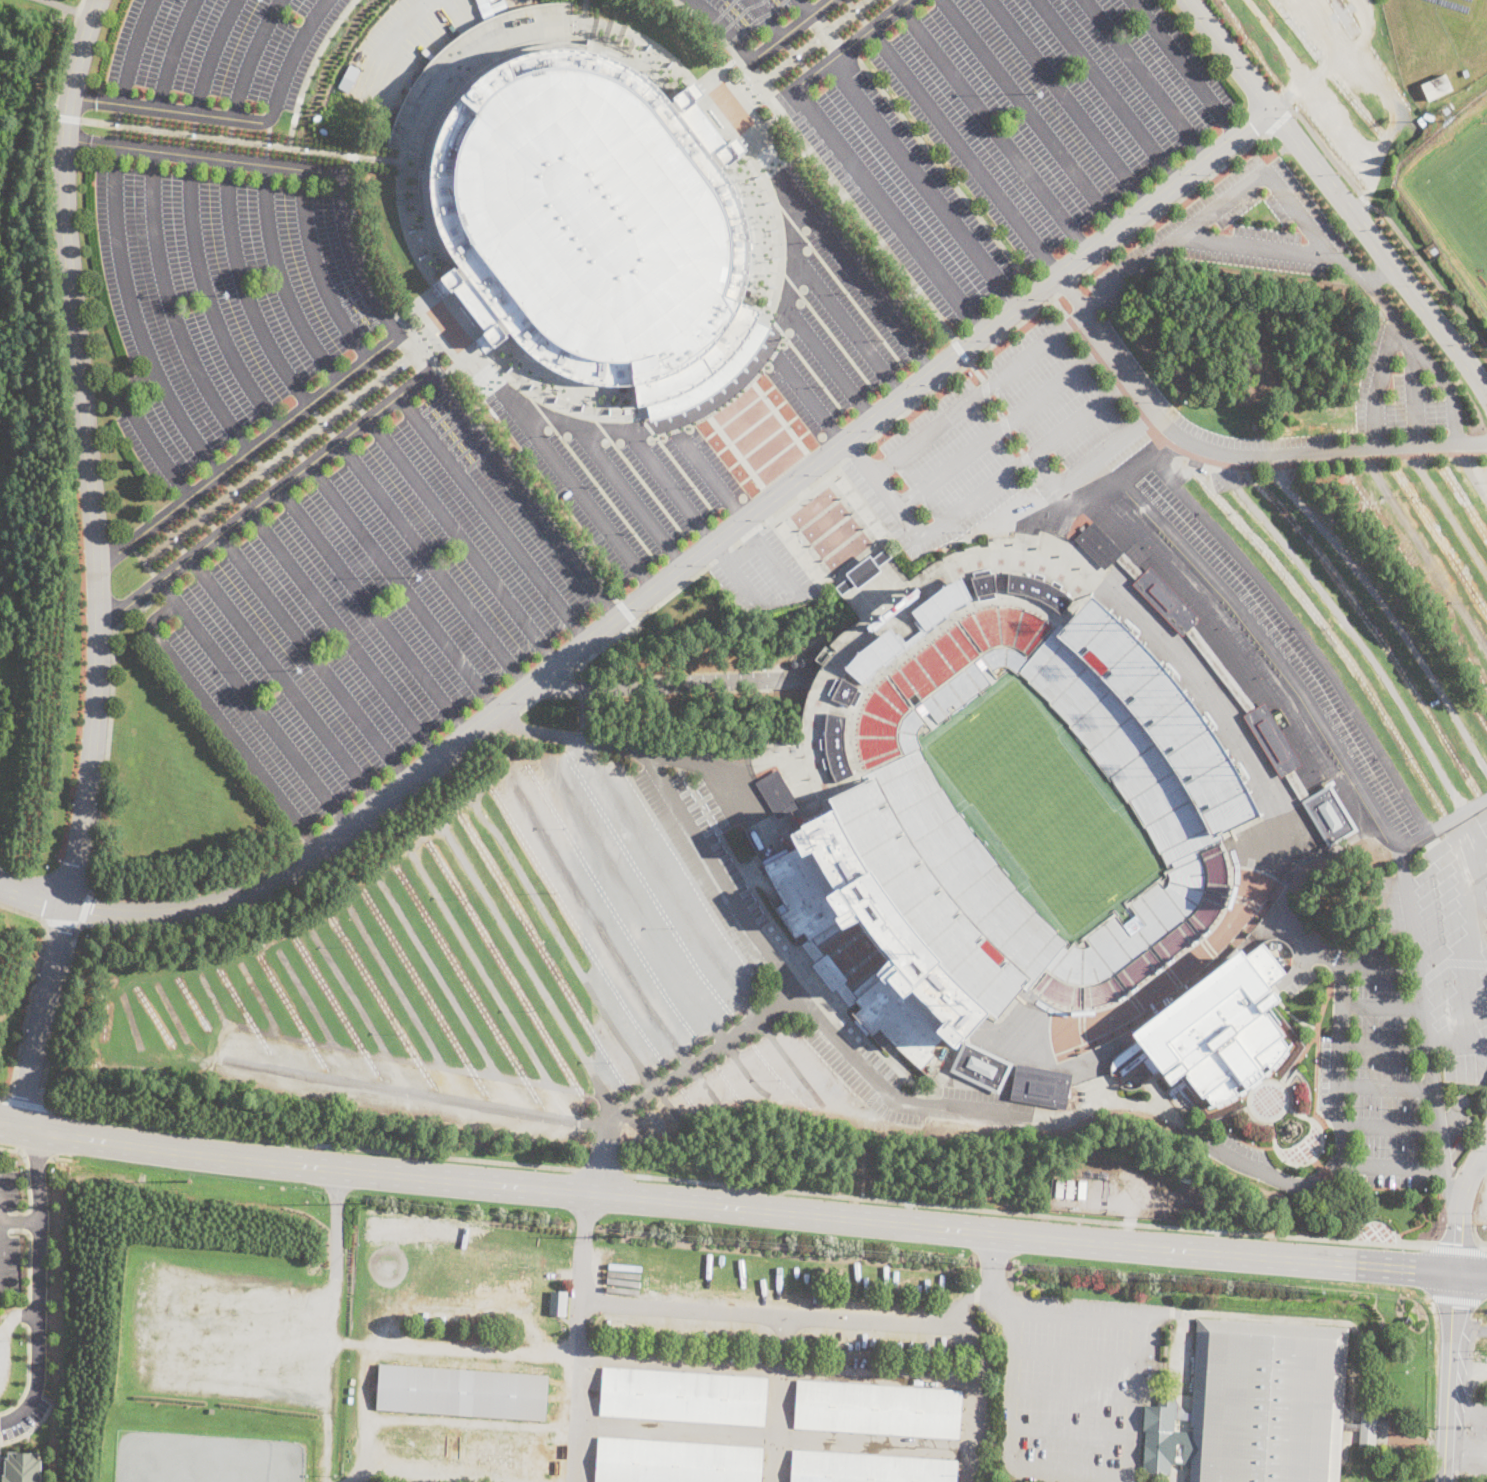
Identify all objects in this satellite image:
building: (481, 2)
road: (58, 6)
building: (498, 6)
road: (807, 6)
road: (587, 9)
road: (85, 14)
road: (767, 17)
parking lot: (740, 19)
road: (723, 27)
road: (402, 29)
road: (789, 30)
road: (849, 43)
road: (133, 50)
road: (171, 52)
parking lot: (225, 52)
road: (293, 53)
road: (1227, 53)
road: (211, 54)
road: (65, 56)
road: (250, 56)
building: (464, 61)
road: (1185, 66)
building: (348, 77)
road: (1144, 79)
building: (1436, 86)
road: (1106, 90)
road: (1069, 101)
road: (173, 110)
road: (1029, 113)
road: (68, 117)
road: (993, 128)
road: (743, 129)
parking lot: (1010, 132)
road: (248, 142)
road: (963, 151)
road: (202, 155)
road: (942, 170)
road: (1275, 181)
road: (922, 183)
park: (1463, 184)
road: (1172, 205)
building: (585, 210)
road: (887, 210)
road: (856, 211)
road: (792, 239)
road: (1383, 245)
road: (353, 258)
road: (1067, 265)
road: (317, 269)
road: (1432, 272)
road: (856, 273)
road: (1383, 273)
road: (280, 279)
road: (839, 283)
road: (1369, 283)
road: (1067, 286)
road: (243, 289)
road: (208, 299)
parking lot: (223, 301)
road: (171, 308)
road: (1399, 322)
road: (848, 323)
road: (827, 328)
park: (1247, 335)
road: (142, 339)
road: (961, 350)
road: (805, 362)
road: (829, 363)
road: (960, 368)
road: (387, 372)
road: (975, 372)
building: (711, 377)
road: (454, 390)
road: (1414, 393)
road: (977, 394)
parking lot: (731, 396)
road: (810, 399)
building: (1330, 409)
road: (563, 421)
road: (184, 423)
road: (1001, 426)
road: (1163, 446)
road: (250, 449)
road: (86, 450)
road: (855, 451)
road: (1229, 453)
road: (676, 462)
road: (1090, 464)
road: (1138, 467)
road: (1471, 473)
road: (589, 474)
road: (637, 475)
road: (709, 476)
road: (671, 486)
road: (579, 489)
road: (522, 493)
road: (629, 494)
road: (265, 496)
road: (979, 496)
road: (788, 503)
road: (1446, 513)
road: (491, 517)
road: (461, 540)
road: (748, 546)
building: (1098, 546)
road: (1423, 548)
road: (718, 553)
road: (722, 554)
road: (432, 563)
road: (402, 586)
road: (1384, 607)
road: (371, 610)
parking lot: (376, 610)
road: (626, 610)
road: (641, 615)
road: (1347, 626)
road: (342, 634)
road: (313, 656)
building: (1218, 671)
road: (283, 679)
road: (252, 703)
road: (110, 714)
road: (484, 719)
road: (220, 722)
road: (569, 736)
road: (712, 769)
building: (775, 796)
stadium: (996, 801)
building: (875, 803)
park: (1047, 809)
building: (1329, 816)
road: (1443, 824)
building: (1310, 825)
road: (720, 877)
road: (667, 880)
park: (1318, 888)
road: (31, 893)
road: (631, 901)
road: (594, 919)
road: (78, 923)
road: (1468, 942)
road: (563, 943)
road: (529, 968)
road: (488, 983)
road: (33, 987)
road: (446, 992)
road: (405, 1001)
road: (357, 1007)
road: (1382, 1009)
road: (1423, 1009)
road: (313, 1010)
road: (174, 1013)
road: (220, 1013)
road: (266, 1013)
road: (40, 1014)
road: (129, 1019)
building: (1019, 1023)
road: (1340, 1031)
building: (1216, 1033)
road: (1384, 1047)
road: (701, 1058)
building: (980, 1067)
road: (798, 1068)
road: (749, 1075)
road: (366, 1084)
building: (1041, 1086)
road: (704, 1087)
road: (1386, 1087)
road: (891, 1095)
road: (24, 1103)
road: (671, 1109)
road: (1187, 1127)
road: (1389, 1128)
road: (640, 1131)
road: (939, 1132)
road: (217, 1133)
road: (1482, 1153)
road: (602, 1159)
road: (1482, 1164)
road: (1392, 1169)
road: (603, 1172)
road: (27, 1178)
power tower: (186, 1181)
building: (1059, 1187)
building: (1070, 1188)
building: (1081, 1188)
road: (1451, 1190)
road: (995, 1199)
power tower: (367, 1200)
road: (725, 1206)
road: (1027, 1214)
road: (1458, 1216)
road: (30, 1220)
road: (18, 1222)
parking lot: (3, 1223)
power tower: (623, 1236)
road: (1457, 1249)
road: (28, 1257)
power tower: (858, 1257)
road: (1470, 1273)
road: (992, 1275)
power tower: (1171, 1280)
road: (36, 1283)
building: (558, 1302)
road: (631, 1303)
building: (978, 1307)
road: (1017, 1309)
road: (26, 1314)
road: (14, 1315)
road: (813, 1317)
road: (331, 1325)
road: (1469, 1326)
road: (454, 1348)
road: (1075, 1355)
road: (1468, 1369)
road: (779, 1370)
road: (28, 1372)
road: (1448, 1376)
road: (981, 1380)
road: (576, 1390)
building: (462, 1392)
parking lot: (1477, 1392)
road: (1072, 1394)
building: (683, 1396)
road: (1466, 1404)
building: (1256, 1406)
building: (878, 1409)
building: (1181, 1414)
road: (35, 1425)
building: (1351, 1427)
building: (1368, 1427)
road: (1070, 1432)
road: (1466, 1443)
road: (890, 1444)
building: (675, 1462)
building: (22, 1467)
building: (868, 1468)

